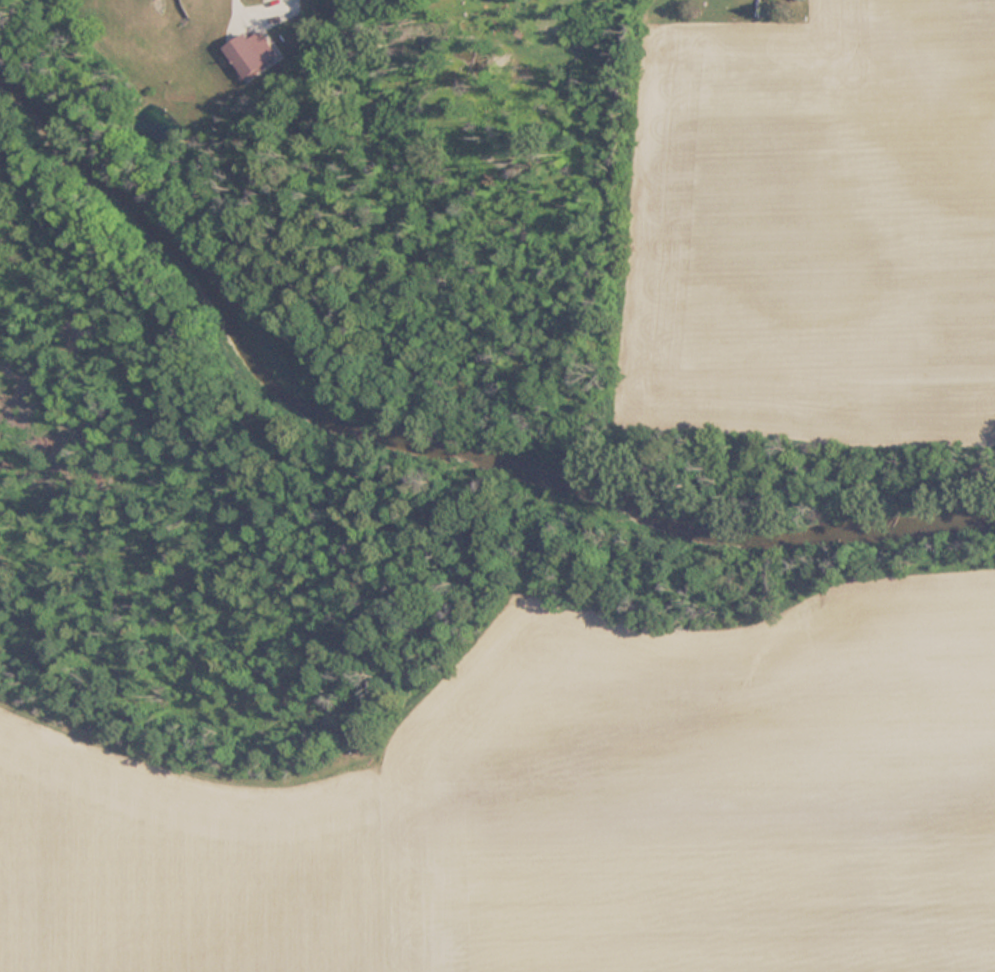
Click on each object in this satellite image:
building: (252, 53)

